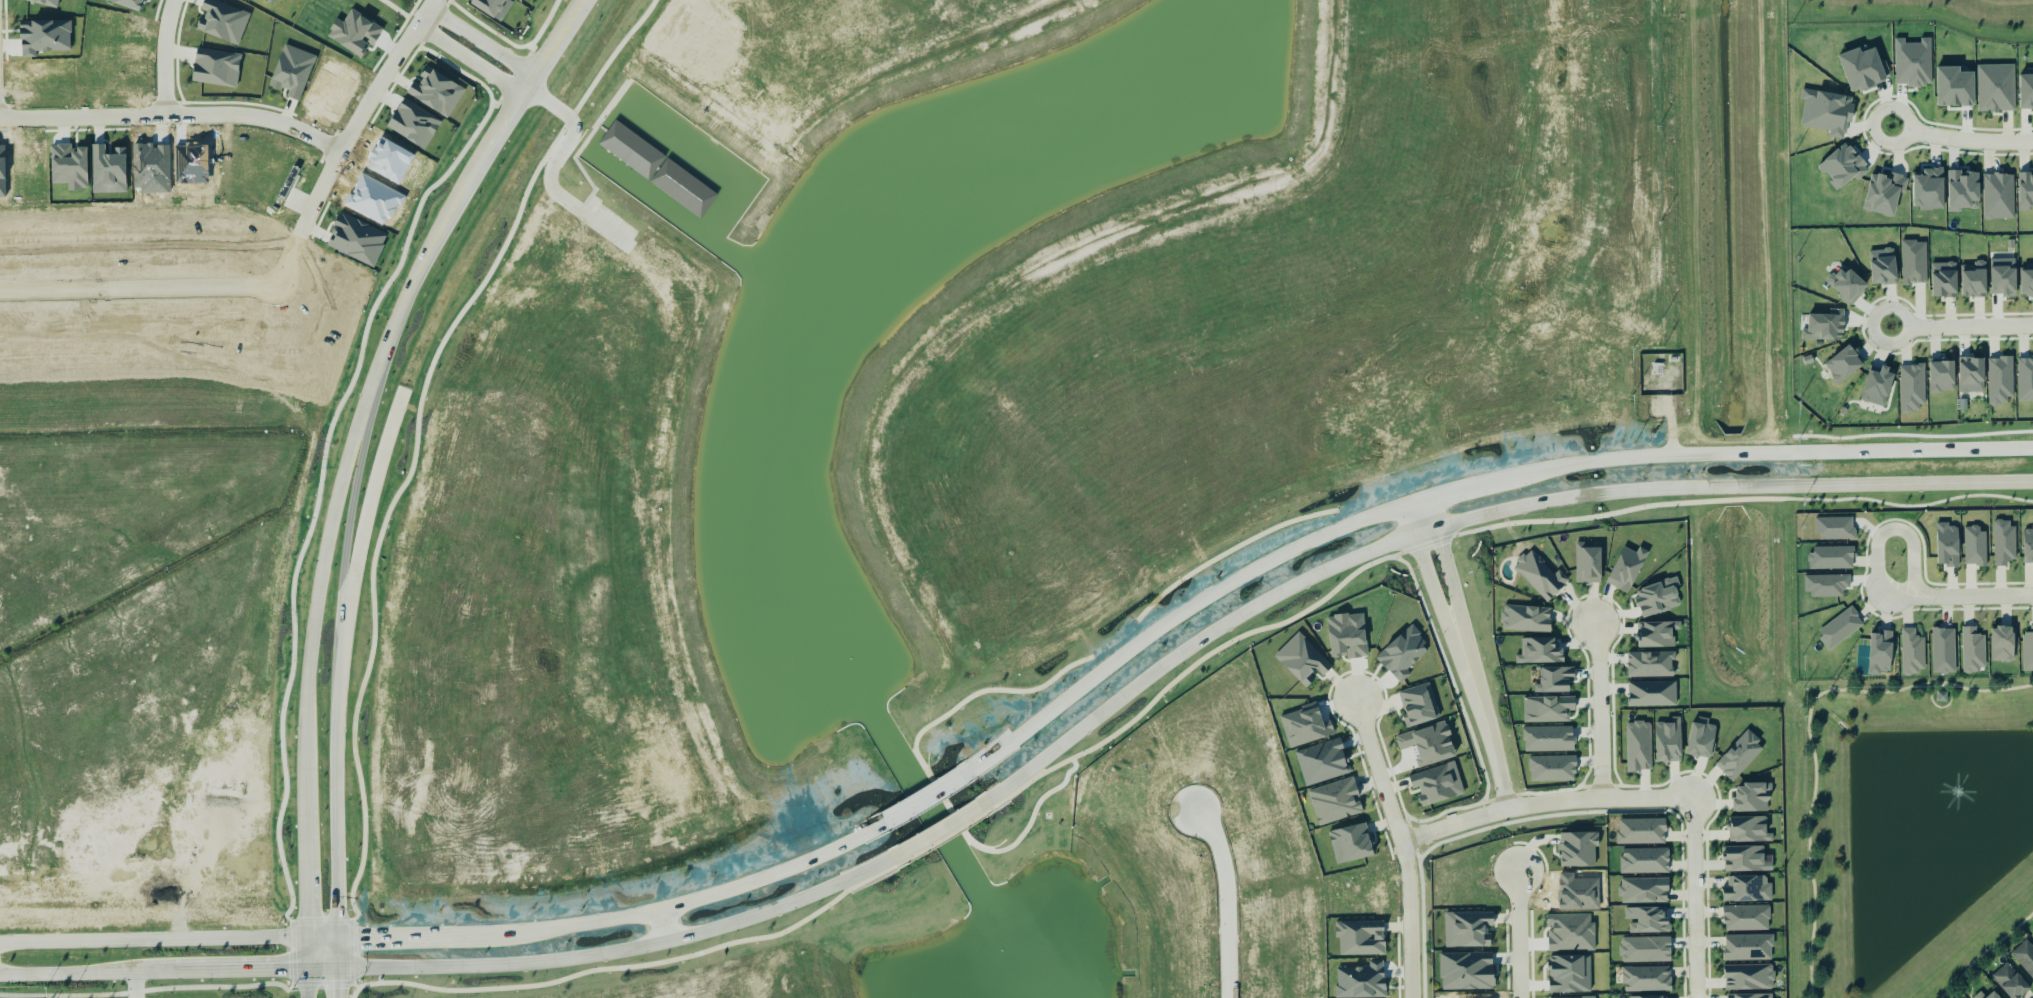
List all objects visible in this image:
building: (489, 6)
building: (222, 21)
building: (358, 31)
road: (480, 40)
road: (165, 56)
road: (466, 59)
building: (1913, 62)
building: (216, 68)
building: (292, 71)
road: (1533, 88)
building: (1996, 88)
building: (437, 92)
building: (1827, 112)
road: (172, 115)
road: (1396, 123)
road: (346, 137)
road: (1960, 137)
building: (1843, 166)
road: (552, 169)
road: (458, 187)
building: (751, 189)
building: (2025, 192)
building: (1884, 194)
building: (1998, 197)
building: (357, 240)
road: (1560, 248)
building: (1914, 263)
building: (1883, 267)
building: (2003, 278)
building: (1944, 280)
building: (1974, 280)
building: (2027, 281)
building: (1848, 286)
road: (139, 291)
road: (1960, 324)
building: (1825, 326)
building: (1844, 365)
building: (1942, 376)
building: (1972, 376)
building: (2025, 380)
building: (2000, 381)
building: (1878, 388)
building: (1912, 389)
road: (1458, 487)
road: (1733, 488)
road: (1433, 513)
road: (1410, 519)
building: (1835, 528)
road: (1425, 531)
road: (361, 537)
road: (347, 538)
road: (1879, 538)
building: (2003, 542)
building: (2028, 544)
road: (1379, 545)
building: (1947, 545)
building: (1974, 546)
building: (1831, 558)
building: (1588, 563)
building: (1627, 568)
road: (1449, 574)
building: (1539, 575)
road: (1430, 579)
building: (1825, 585)
road: (1973, 596)
building: (1658, 597)
building: (1526, 618)
building: (1840, 628)
building: (1656, 633)
building: (1347, 635)
building: (2002, 643)
building: (1943, 650)
building: (1973, 650)
building: (1539, 651)
building: (1912, 651)
building: (2027, 651)
building: (1880, 652)
building: (1302, 659)
road: (308, 661)
building: (1650, 664)
road: (1155, 673)
building: (1555, 679)
building: (1652, 694)
building: (1938, 697)
building: (1418, 705)
building: (1549, 709)
road: (1601, 711)
road: (1483, 715)
road: (1807, 737)
building: (1548, 739)
building: (1700, 740)
building: (1668, 741)
building: (1429, 743)
building: (1638, 746)
building: (1739, 756)
building: (1552, 768)
building: (1437, 783)
building: (1751, 798)
building: (1335, 801)
road: (1544, 803)
road: (927, 804)
road: (337, 815)
building: (1749, 829)
road: (939, 831)
building: (1641, 831)
park: (1914, 831)
building: (1351, 843)
road: (1401, 846)
building: (1578, 848)
building: (1744, 858)
building: (1645, 861)
building: (1747, 888)
building: (1644, 890)
road: (1237, 897)
road: (1695, 898)
building: (1746, 918)
building: (1647, 920)
road: (293, 924)
road: (670, 926)
building: (1468, 929)
road: (1518, 934)
building: (1361, 938)
traffic signals: (307, 941)
traffic signals: (337, 942)
road: (453, 943)
building: (1748, 947)
road: (625, 949)
building: (1645, 949)
road: (1984, 952)
road: (307, 954)
road: (337, 954)
building: (2024, 957)
road: (322, 967)
traffic signals: (337, 967)
traffic signals: (308, 968)
road: (221, 969)
building: (1466, 971)
road: (67, 973)
building: (1570, 974)
building: (1749, 977)
building: (1646, 979)
road: (337, 982)
building: (2011, 982)
road: (307, 983)
road: (135, 985)
road: (675, 986)
road: (358, 989)
road: (726, 994)
building: (1980, 995)
building: (1993, 995)
building: (1749, 996)
building: (1580, 997)
building: (1647, 997)
building: (1957, 997)

